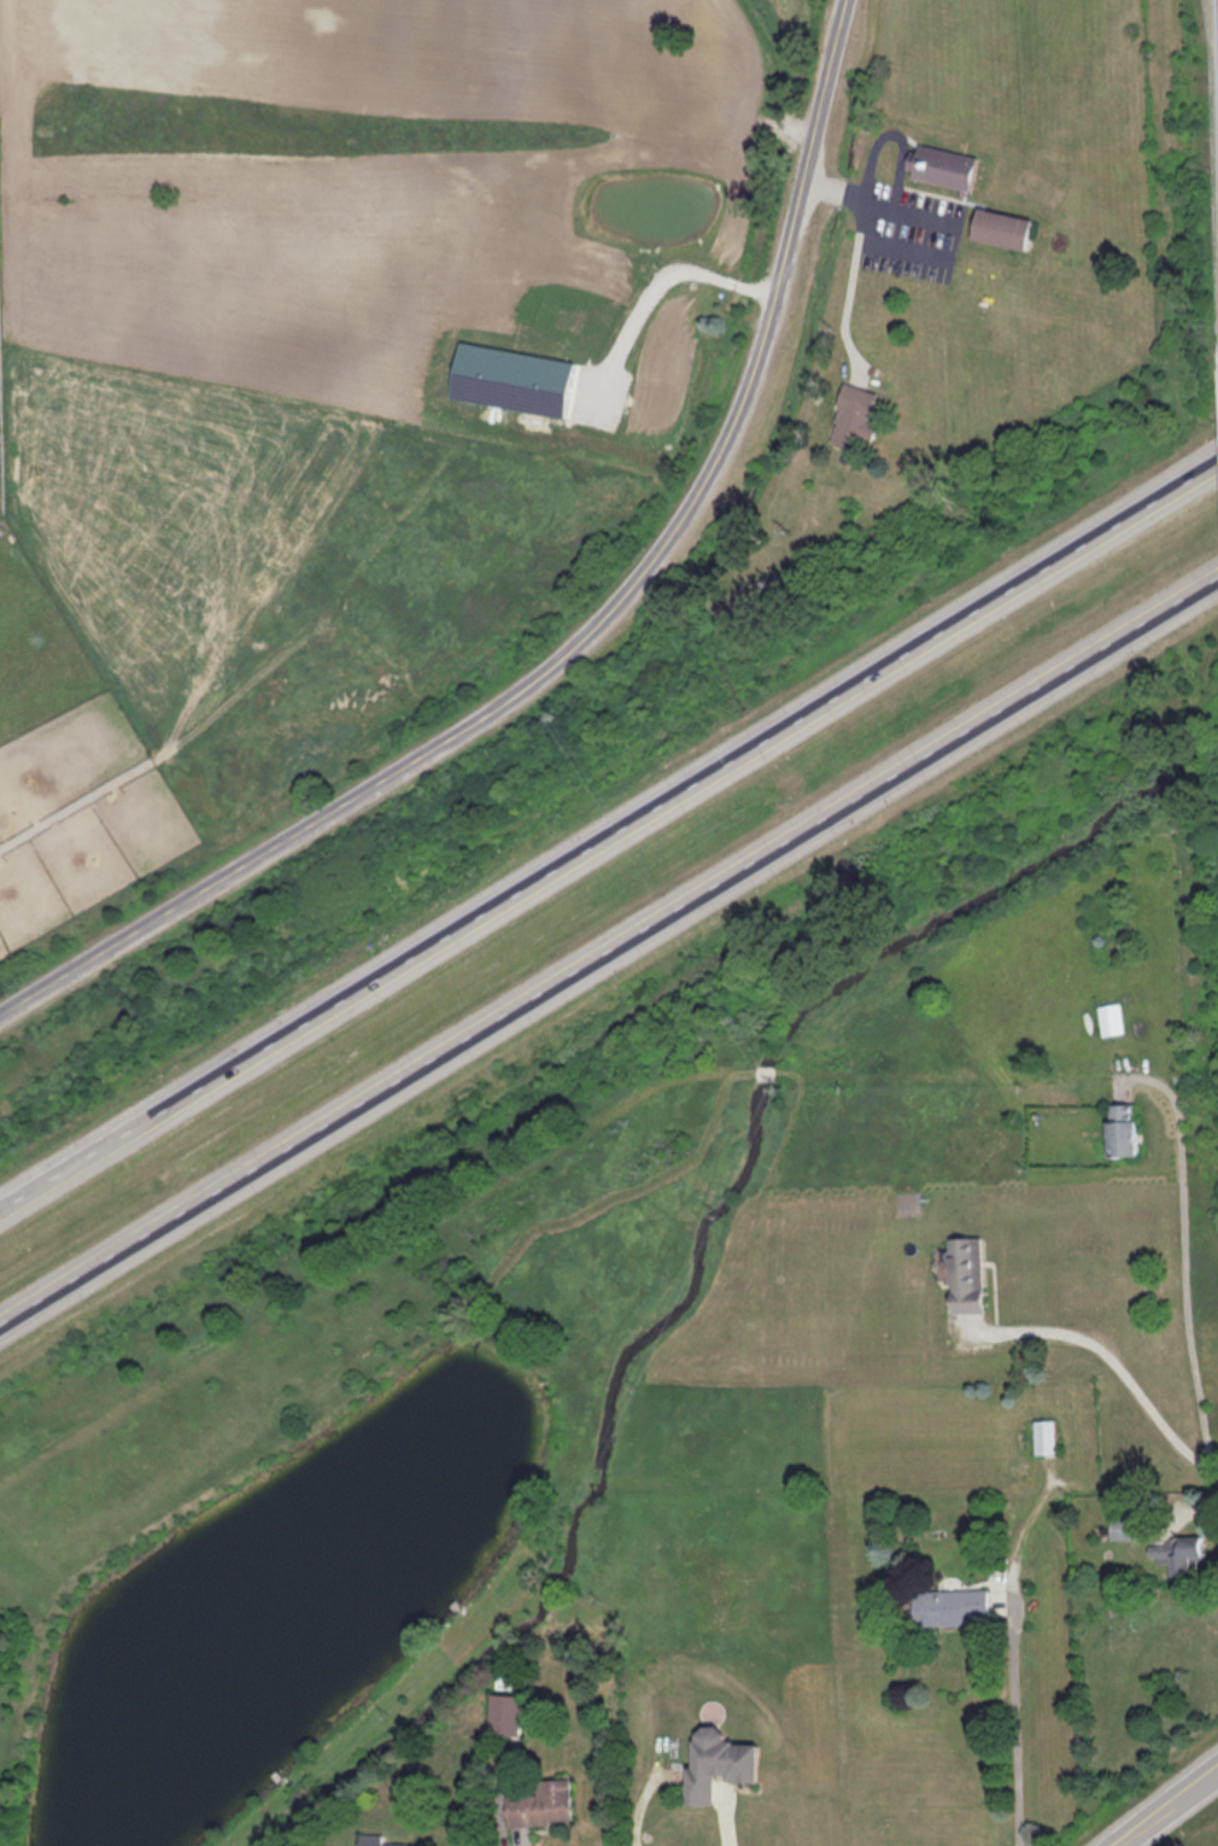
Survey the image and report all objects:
building: (943, 167)
road: (874, 203)
building: (1000, 229)
road: (903, 251)
road: (655, 284)
road: (849, 299)
building: (854, 417)
road: (588, 637)
road: (609, 840)
road: (608, 954)
building: (1111, 1021)
building: (1120, 1132)
road: (1184, 1258)
building: (965, 1277)
road: (1117, 1365)
building: (1046, 1438)
building: (1128, 1530)
building: (1187, 1558)
park: (187, 1578)
building: (951, 1610)
building: (505, 1716)
road: (1015, 1717)
building: (716, 1765)
building: (541, 1805)
road: (1170, 1809)
road: (724, 1828)
road: (517, 1840)
building: (375, 1841)

